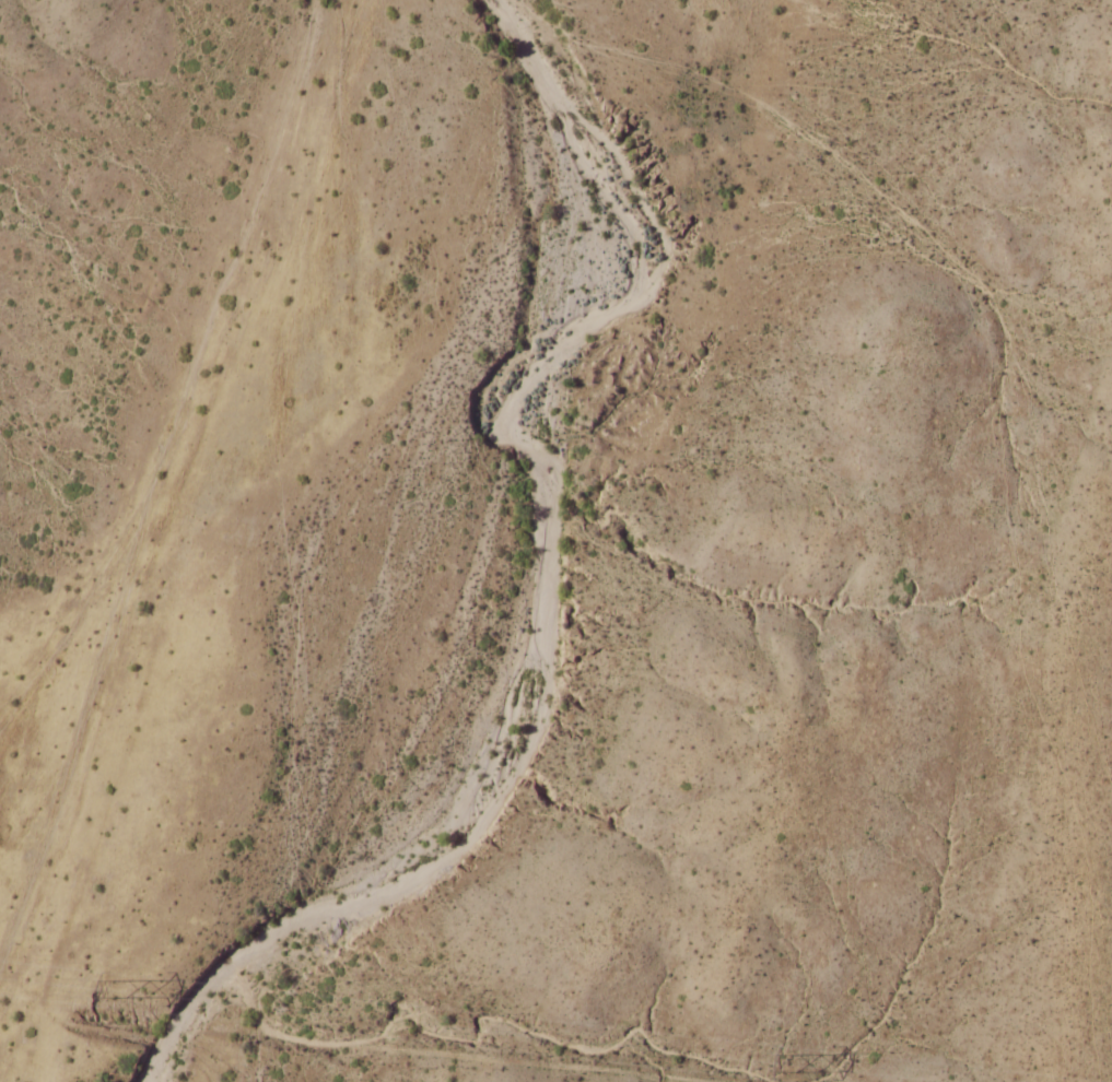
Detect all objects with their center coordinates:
power tower: (114, 985)
power tower: (789, 1061)

